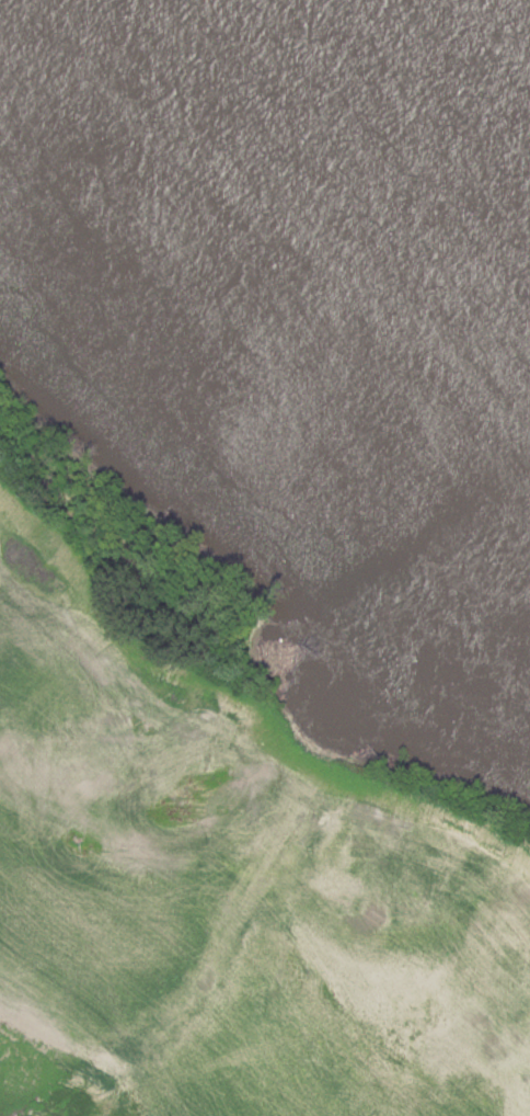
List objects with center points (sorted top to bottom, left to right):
river: (413, 109)
crop: (223, 903)

